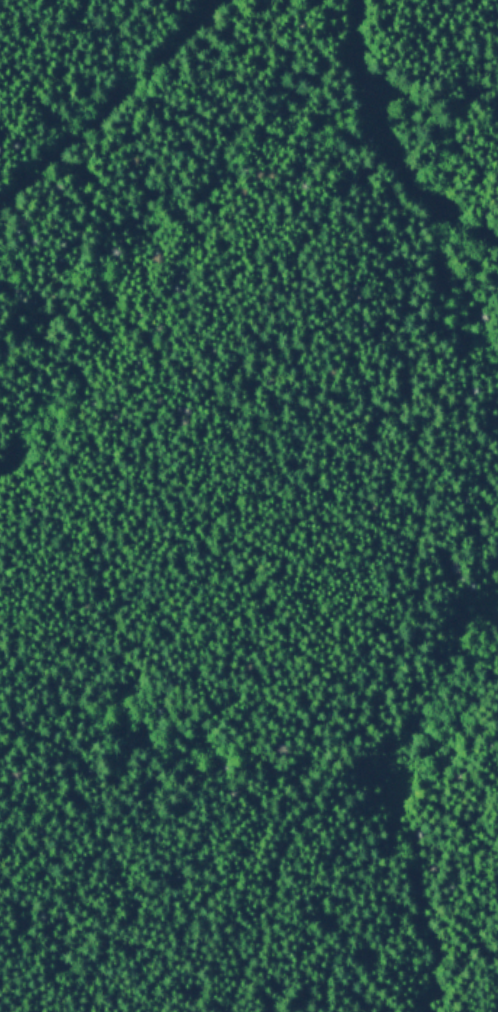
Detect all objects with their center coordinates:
road: (84, 84)
road: (408, 116)

